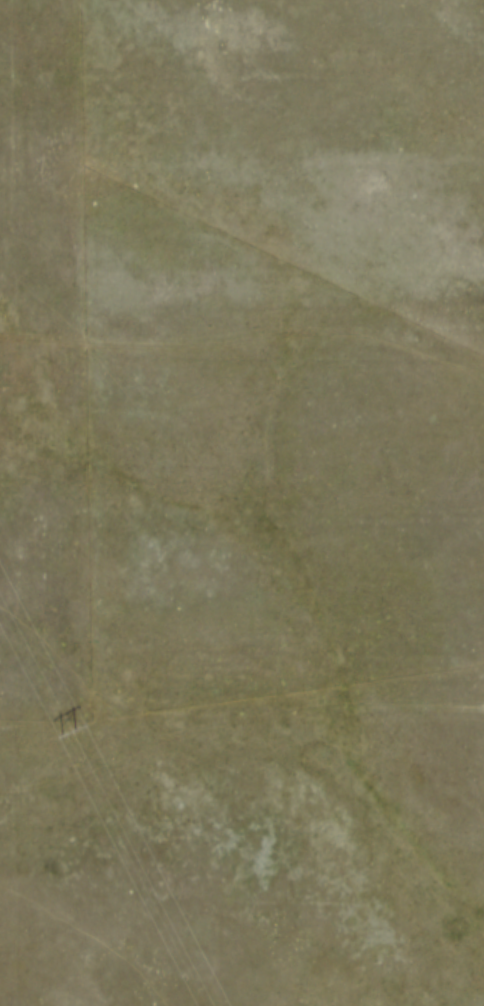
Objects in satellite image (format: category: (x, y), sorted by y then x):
power tower: (65, 732)

